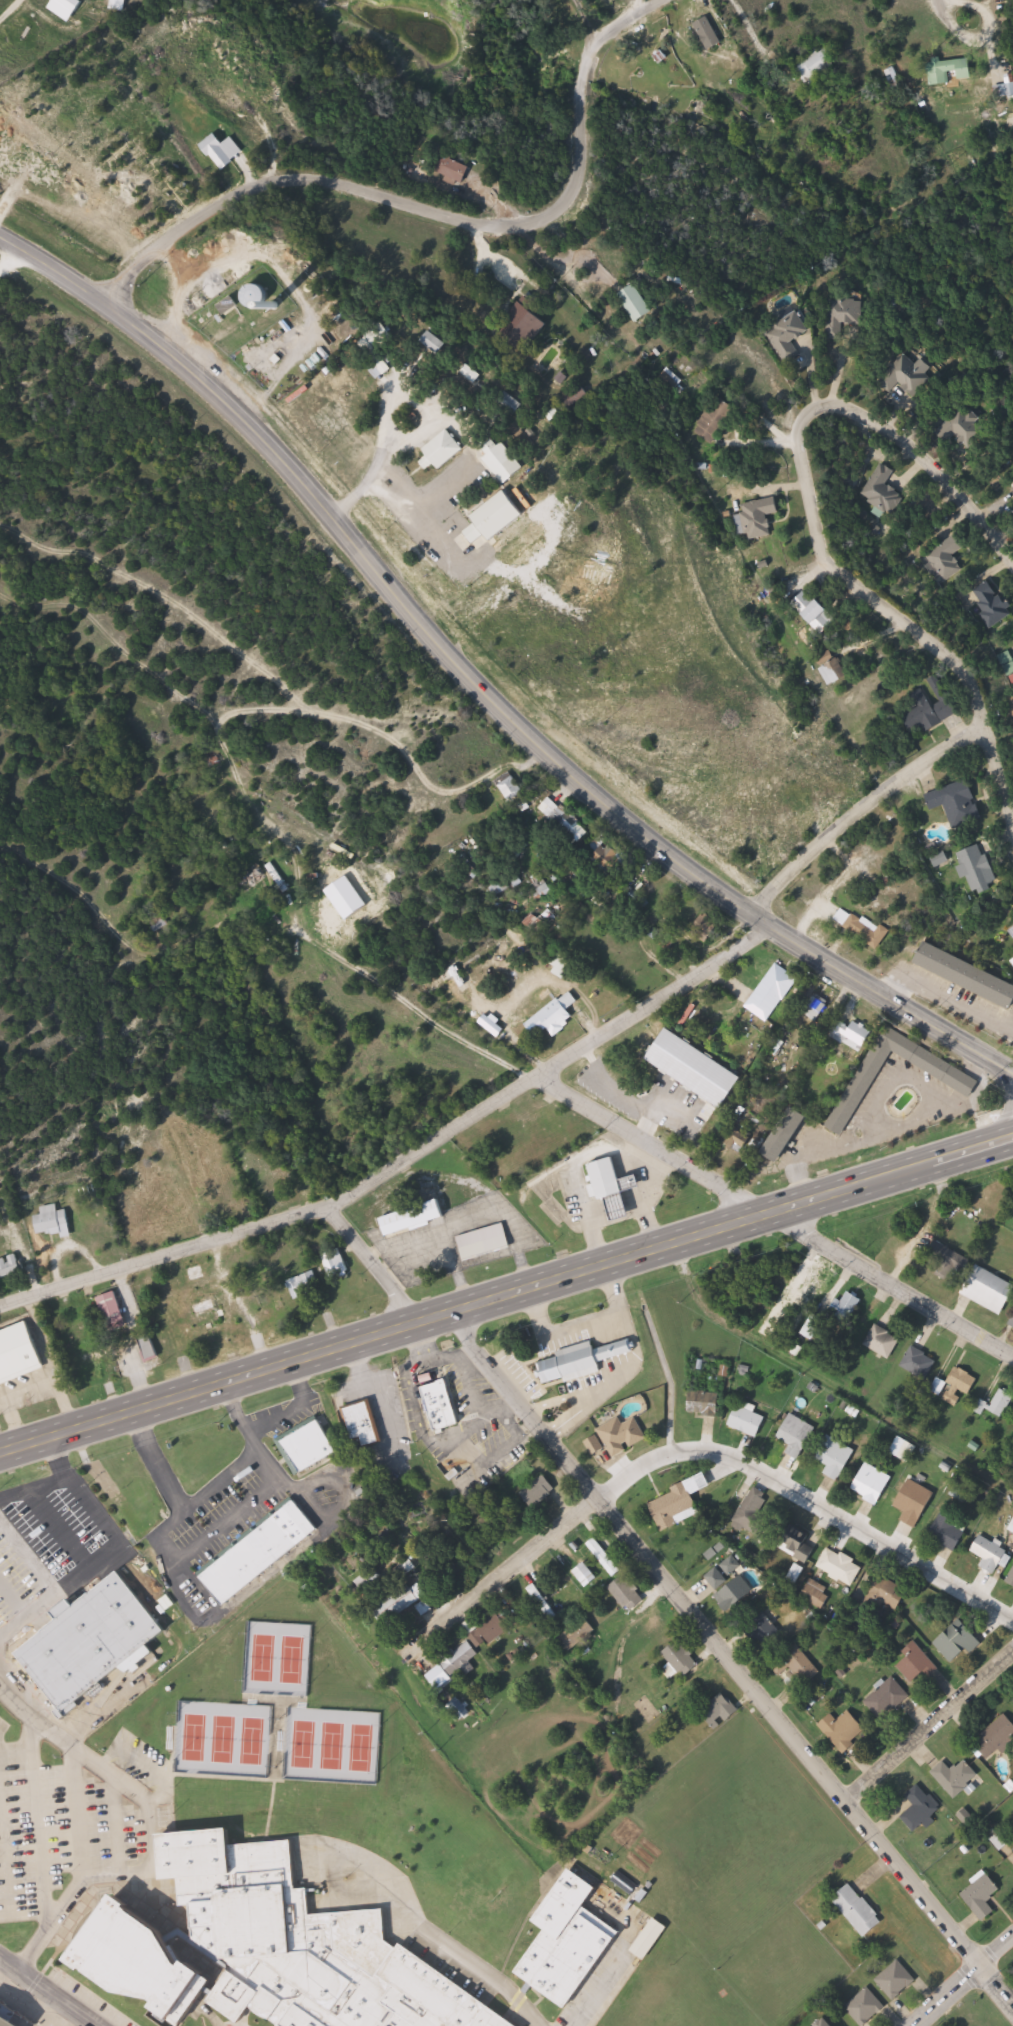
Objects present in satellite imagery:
building: (119, 4)
road: (635, 7)
road: (8, 8)
road: (749, 25)
road: (975, 29)
building: (709, 33)
building: (817, 65)
building: (950, 69)
road: (790, 81)
building: (1006, 89)
building: (220, 152)
building: (455, 169)
road: (439, 215)
road: (22, 268)
building: (256, 297)
building: (638, 303)
building: (847, 315)
building: (526, 330)
building: (792, 336)
building: (434, 343)
building: (381, 368)
building: (905, 375)
building: (716, 422)
building: (962, 433)
building: (444, 450)
building: (502, 460)
road: (932, 461)
building: (884, 490)
building: (759, 517)
building: (948, 557)
building: (994, 602)
road: (882, 603)
building: (814, 609)
building: (1009, 662)
building: (832, 667)
road: (477, 687)
building: (929, 712)
building: (512, 788)
building: (959, 803)
road: (864, 808)
building: (565, 820)
building: (615, 867)
building: (980, 869)
building: (500, 889)
building: (706, 928)
building: (862, 928)
building: (1012, 931)
building: (966, 974)
building: (773, 991)
building: (818, 1008)
building: (556, 1016)
building: (861, 1087)
road: (1007, 1114)
building: (788, 1134)
road: (650, 1139)
road: (399, 1152)
building: (151, 1184)
building: (611, 1186)
building: (415, 1218)
building: (53, 1220)
building: (485, 1242)
building: (944, 1255)
road: (371, 1261)
building: (337, 1262)
building: (12, 1269)
building: (198, 1274)
building: (305, 1284)
building: (812, 1289)
building: (990, 1291)
road: (506, 1297)
road: (237, 1305)
building: (114, 1309)
building: (846, 1310)
building: (208, 1314)
building: (1012, 1322)
building: (814, 1330)
building: (883, 1342)
building: (19, 1354)
building: (90, 1361)
building: (581, 1362)
building: (919, 1363)
road: (51, 1364)
building: (963, 1381)
building: (951, 1397)
building: (1002, 1403)
building: (707, 1404)
building: (444, 1410)
building: (364, 1421)
building: (748, 1422)
building: (797, 1435)
building: (623, 1436)
building: (595, 1445)
building: (309, 1448)
building: (836, 1458)
building: (872, 1483)
building: (965, 1487)
building: (540, 1492)
road: (812, 1500)
building: (680, 1503)
building: (916, 1503)
building: (753, 1517)
building: (950, 1532)
building: (796, 1541)
building: (260, 1553)
building: (992, 1554)
building: (605, 1557)
road: (518, 1565)
building: (841, 1567)
building: (797, 1573)
building: (1011, 1580)
building: (731, 1584)
building: (628, 1594)
building: (885, 1597)
building: (403, 1602)
building: (491, 1630)
building: (768, 1630)
building: (578, 1635)
building: (95, 1643)
building: (457, 1655)
park: (262, 1659)
building: (682, 1659)
road: (733, 1659)
park: (292, 1661)
building: (797, 1664)
building: (918, 1664)
building: (888, 1699)
building: (720, 1711)
building: (845, 1730)
road: (932, 1730)
building: (996, 1737)
park: (194, 1738)
park: (223, 1740)
park: (253, 1742)
road: (71, 1744)
park: (304, 1745)
park: (333, 1747)
road: (14, 1748)
park: (362, 1748)
building: (956, 1777)
building: (922, 1808)
road: (33, 1812)
road: (111, 1816)
road: (77, 1863)
road: (147, 1864)
road: (1, 1882)
building: (982, 1897)
building: (858, 1910)
building: (651, 1939)
building: (570, 1941)
building: (268, 1949)
building: (897, 1980)
road: (963, 1983)
road: (495, 1986)
road: (47, 1992)
building: (866, 2006)

